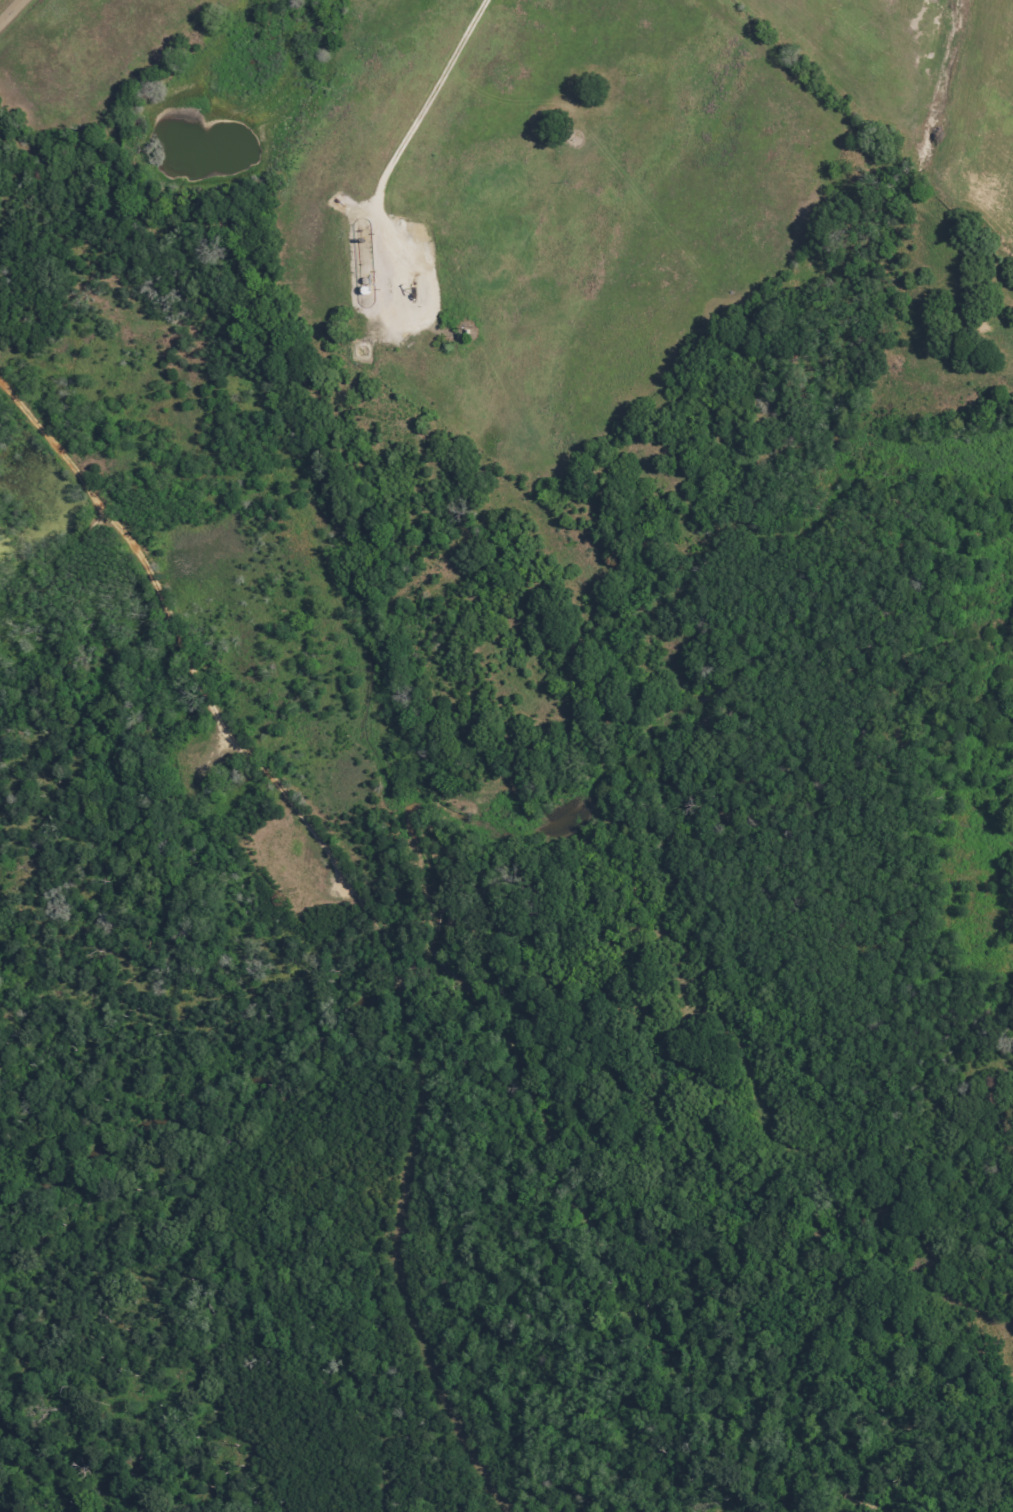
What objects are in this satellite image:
road: (10, 11)
road: (335, 874)

